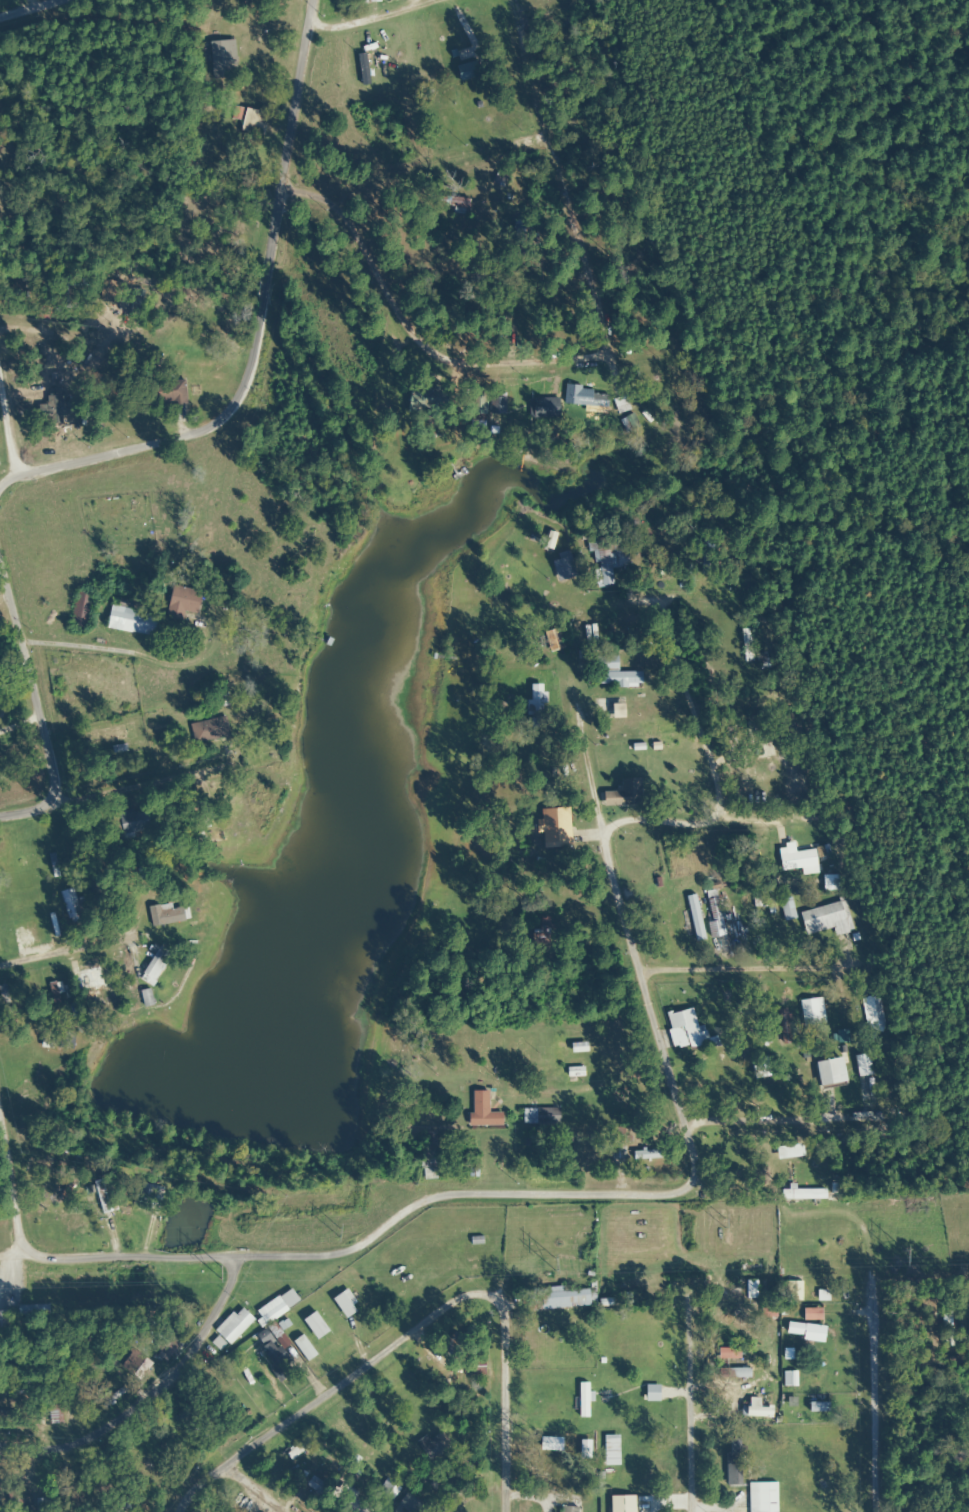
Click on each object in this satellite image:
building: (360, 1)
road: (622, 11)
building: (221, 57)
building: (467, 71)
road: (587, 77)
building: (250, 121)
road: (43, 253)
road: (564, 286)
building: (65, 296)
road: (265, 321)
building: (165, 394)
building: (586, 399)
building: (419, 402)
building: (477, 403)
building: (497, 407)
road: (5, 451)
building: (707, 554)
building: (612, 556)
road: (169, 559)
building: (565, 566)
building: (181, 604)
building: (131, 622)
building: (613, 632)
building: (553, 641)
road: (21, 645)
road: (654, 667)
building: (613, 674)
road: (707, 694)
road: (622, 699)
building: (534, 705)
building: (208, 730)
road: (684, 772)
road: (116, 786)
building: (628, 792)
road: (588, 807)
road: (15, 809)
building: (132, 822)
building: (553, 827)
road: (708, 852)
building: (822, 852)
building: (794, 858)
building: (69, 905)
building: (786, 909)
building: (712, 914)
building: (164, 915)
building: (693, 917)
building: (825, 919)
building: (154, 963)
building: (88, 979)
road: (738, 988)
building: (54, 995)
building: (810, 1011)
building: (871, 1013)
road: (90, 1015)
building: (682, 1026)
building: (56, 1040)
road: (857, 1045)
building: (861, 1065)
building: (756, 1067)
building: (828, 1072)
building: (483, 1114)
building: (539, 1116)
road: (775, 1126)
building: (615, 1143)
building: (552, 1148)
building: (643, 1155)
building: (427, 1157)
road: (501, 1189)
building: (801, 1194)
building: (145, 1195)
building: (103, 1196)
power tower: (719, 1219)
power tower: (339, 1233)
road: (173, 1238)
power tower: (897, 1253)
power tower: (549, 1263)
power tower: (214, 1271)
building: (750, 1289)
building: (792, 1291)
building: (555, 1299)
building: (342, 1305)
building: (275, 1306)
building: (31, 1310)
building: (766, 1312)
building: (810, 1314)
building: (4, 1322)
building: (314, 1325)
building: (944, 1327)
building: (230, 1328)
building: (803, 1331)
building: (166, 1343)
building: (302, 1348)
building: (727, 1353)
building: (272, 1356)
building: (135, 1365)
building: (476, 1365)
building: (732, 1372)
road: (338, 1377)
building: (788, 1378)
building: (650, 1393)
building: (581, 1400)
building: (816, 1407)
road: (483, 1409)
building: (755, 1411)
building: (54, 1412)
building: (190, 1415)
road: (843, 1416)
road: (136, 1421)
road: (695, 1426)
building: (428, 1446)
building: (606, 1450)
road: (189, 1468)
building: (731, 1468)
road: (264, 1483)
building: (387, 1489)
building: (761, 1497)
building: (345, 1501)
building: (118, 1503)
building: (407, 1503)
building: (566, 1509)

